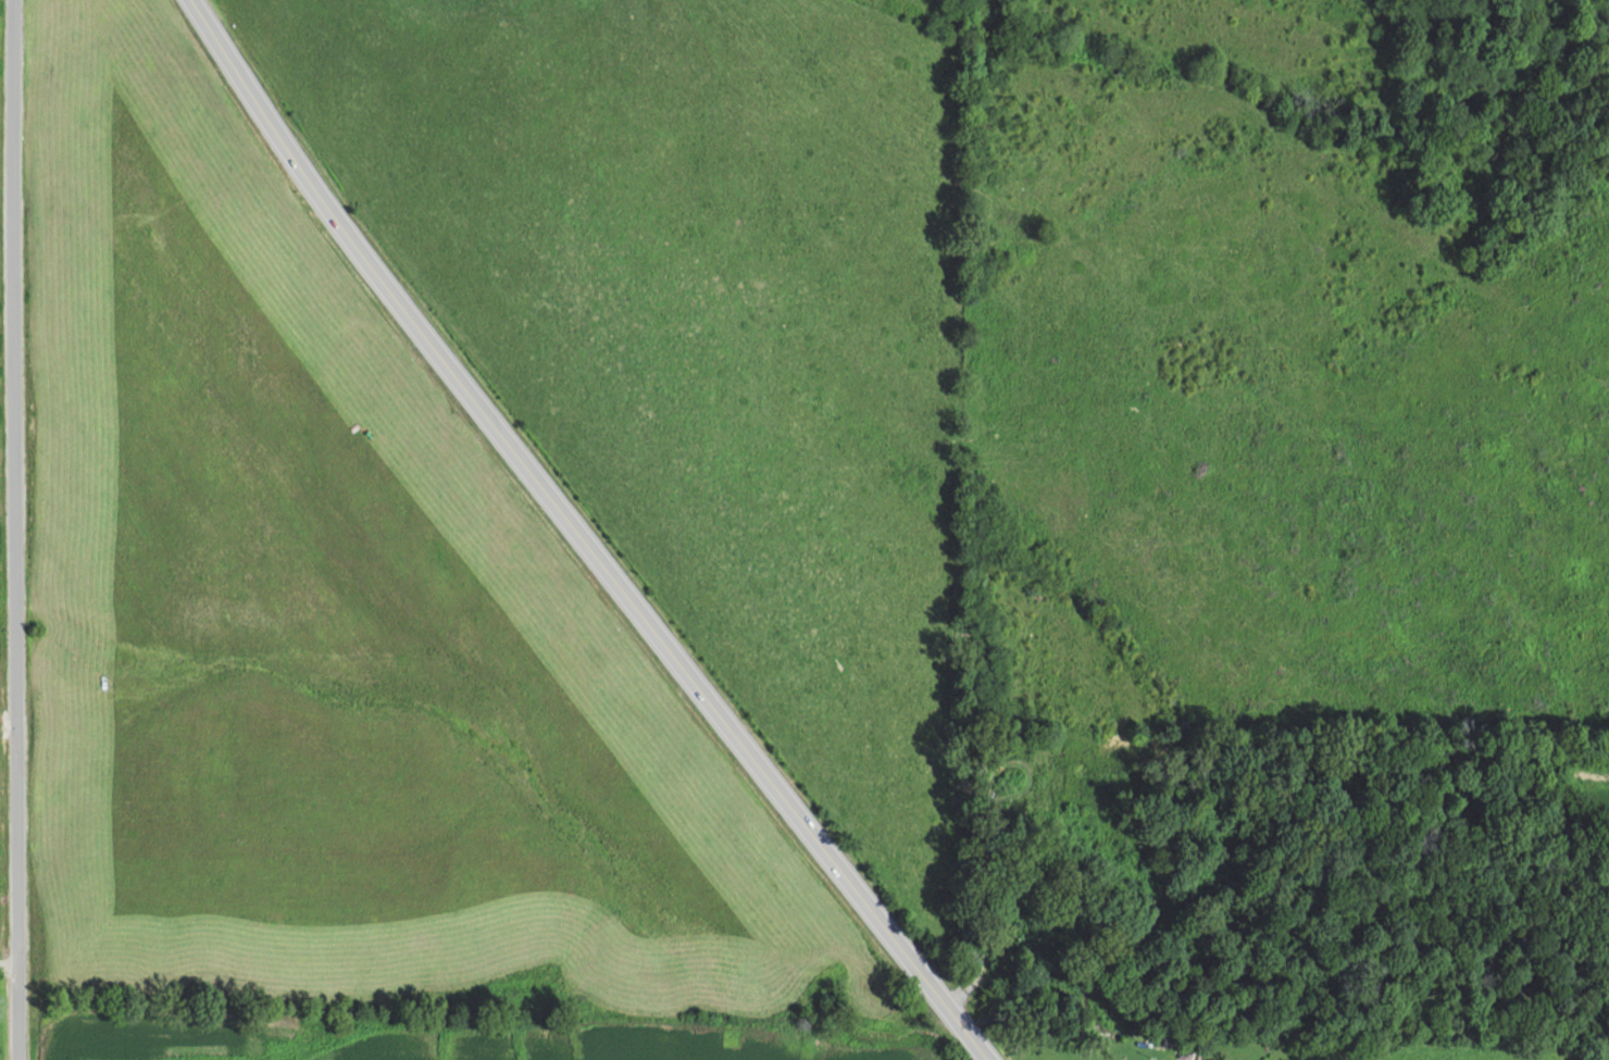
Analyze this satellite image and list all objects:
road: (11, 529)
road: (583, 535)

